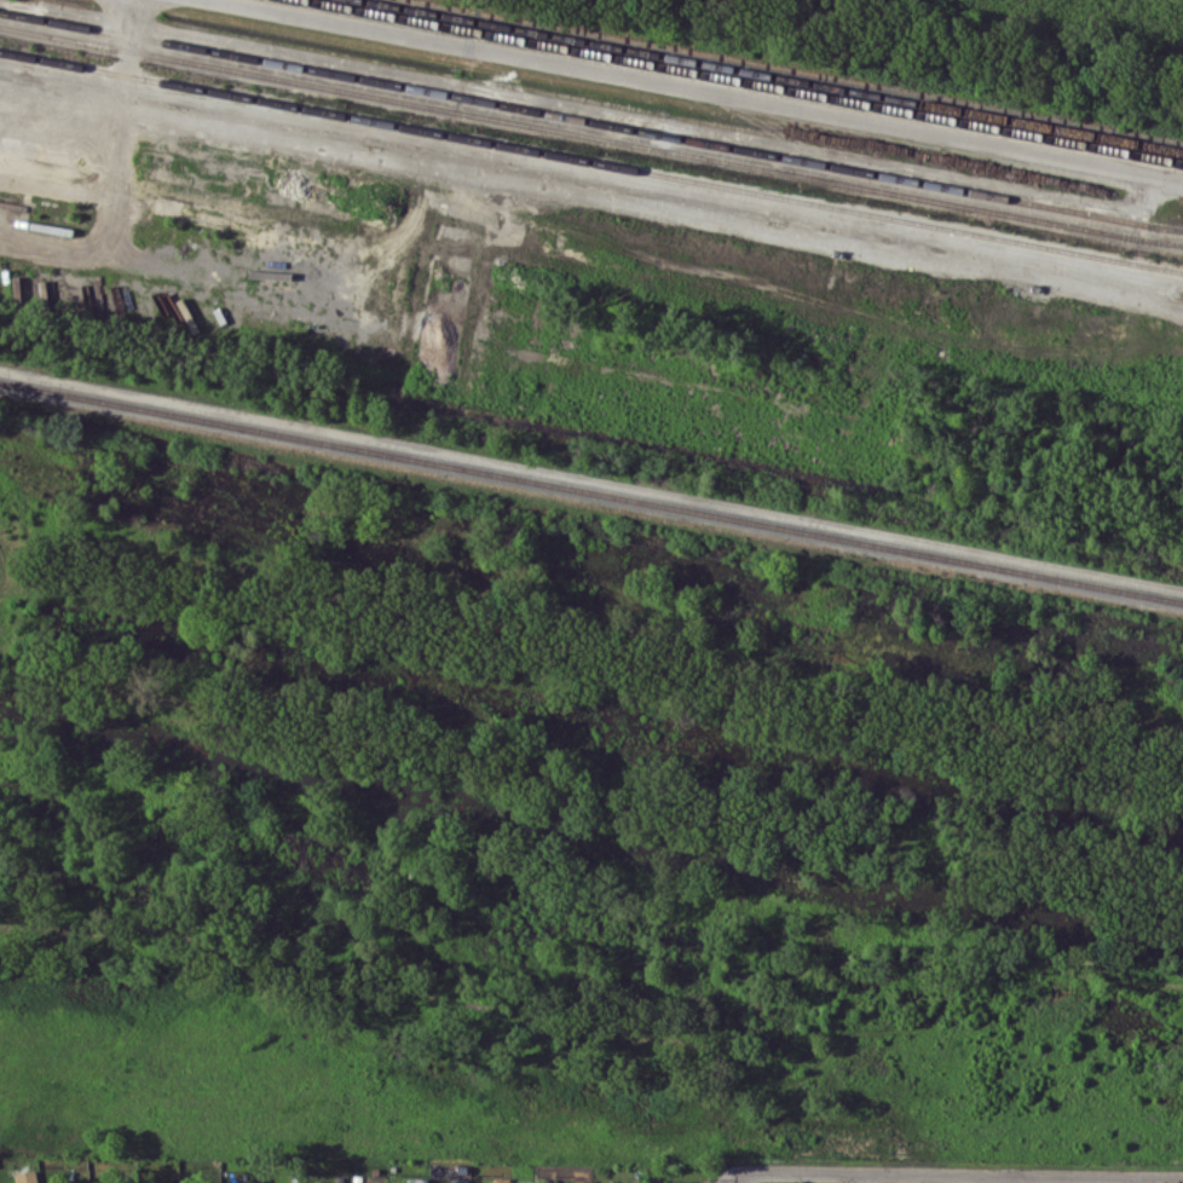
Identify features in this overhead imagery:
railway: (774, 75)
railway: (740, 82)
road: (708, 88)
railway: (591, 120)
railway: (590, 135)
railway: (591, 162)
railway: (591, 486)
road: (956, 1175)
building: (25, 1176)
building: (375, 1178)
road: (867, 1178)
building: (415, 1179)
building: (456, 1179)
building: (501, 1179)
road: (1002, 1179)
road: (1139, 1179)
building: (679, 1181)
road: (731, 1182)

